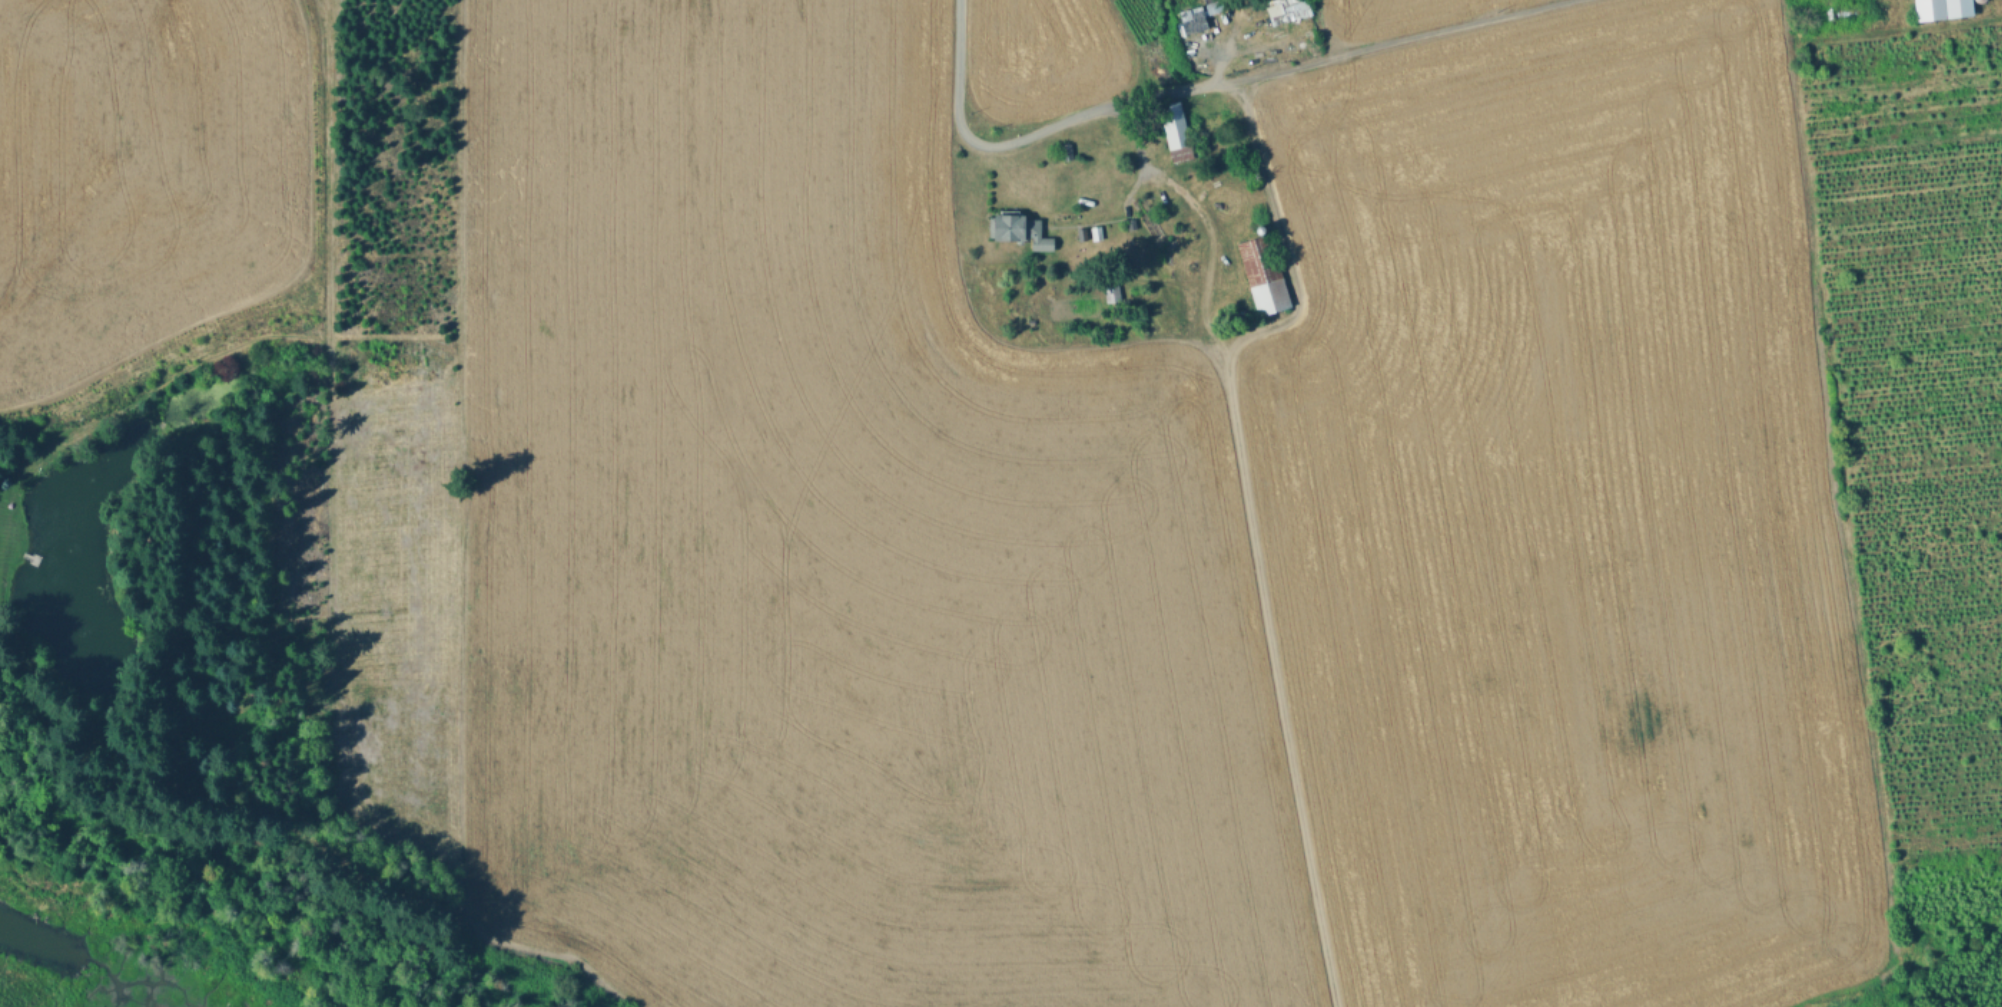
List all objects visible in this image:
building: (1980, 3)
silo: (1980, 3)
building: (1214, 7)
building: (1284, 9)
building: (1958, 10)
building: (1929, 11)
crop: (1391, 14)
crop: (1042, 56)
road: (1199, 86)
building: (1177, 131)
building: (1067, 152)
crop: (143, 175)
building: (1020, 229)
building: (1097, 233)
building: (1083, 235)
building: (1264, 274)
building: (1113, 294)
road: (1255, 519)
crop: (1559, 531)
crop: (828, 555)

